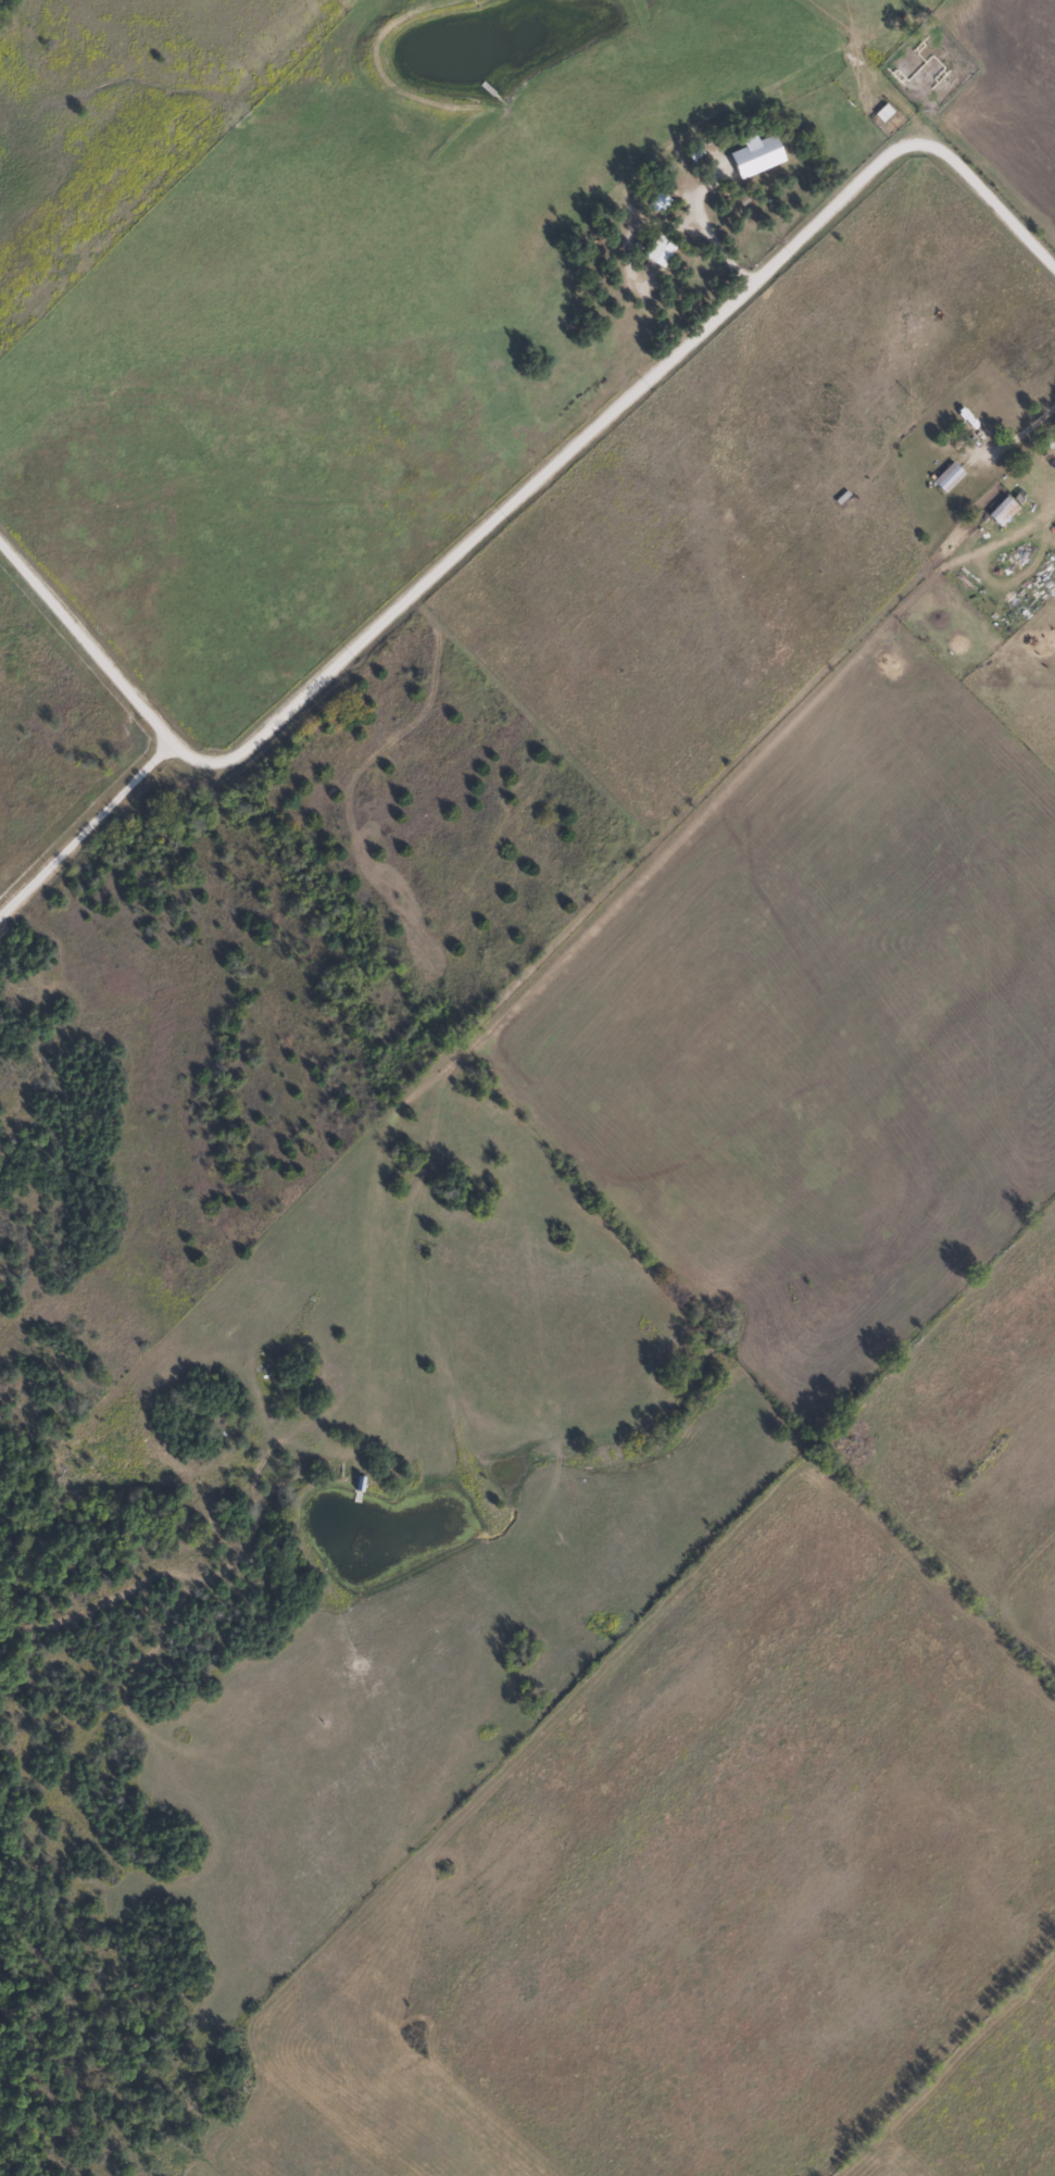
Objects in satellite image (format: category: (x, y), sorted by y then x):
building: (882, 112)
building: (660, 249)
building: (974, 423)
building: (947, 476)
road: (519, 492)
building: (1003, 510)
road: (87, 833)

